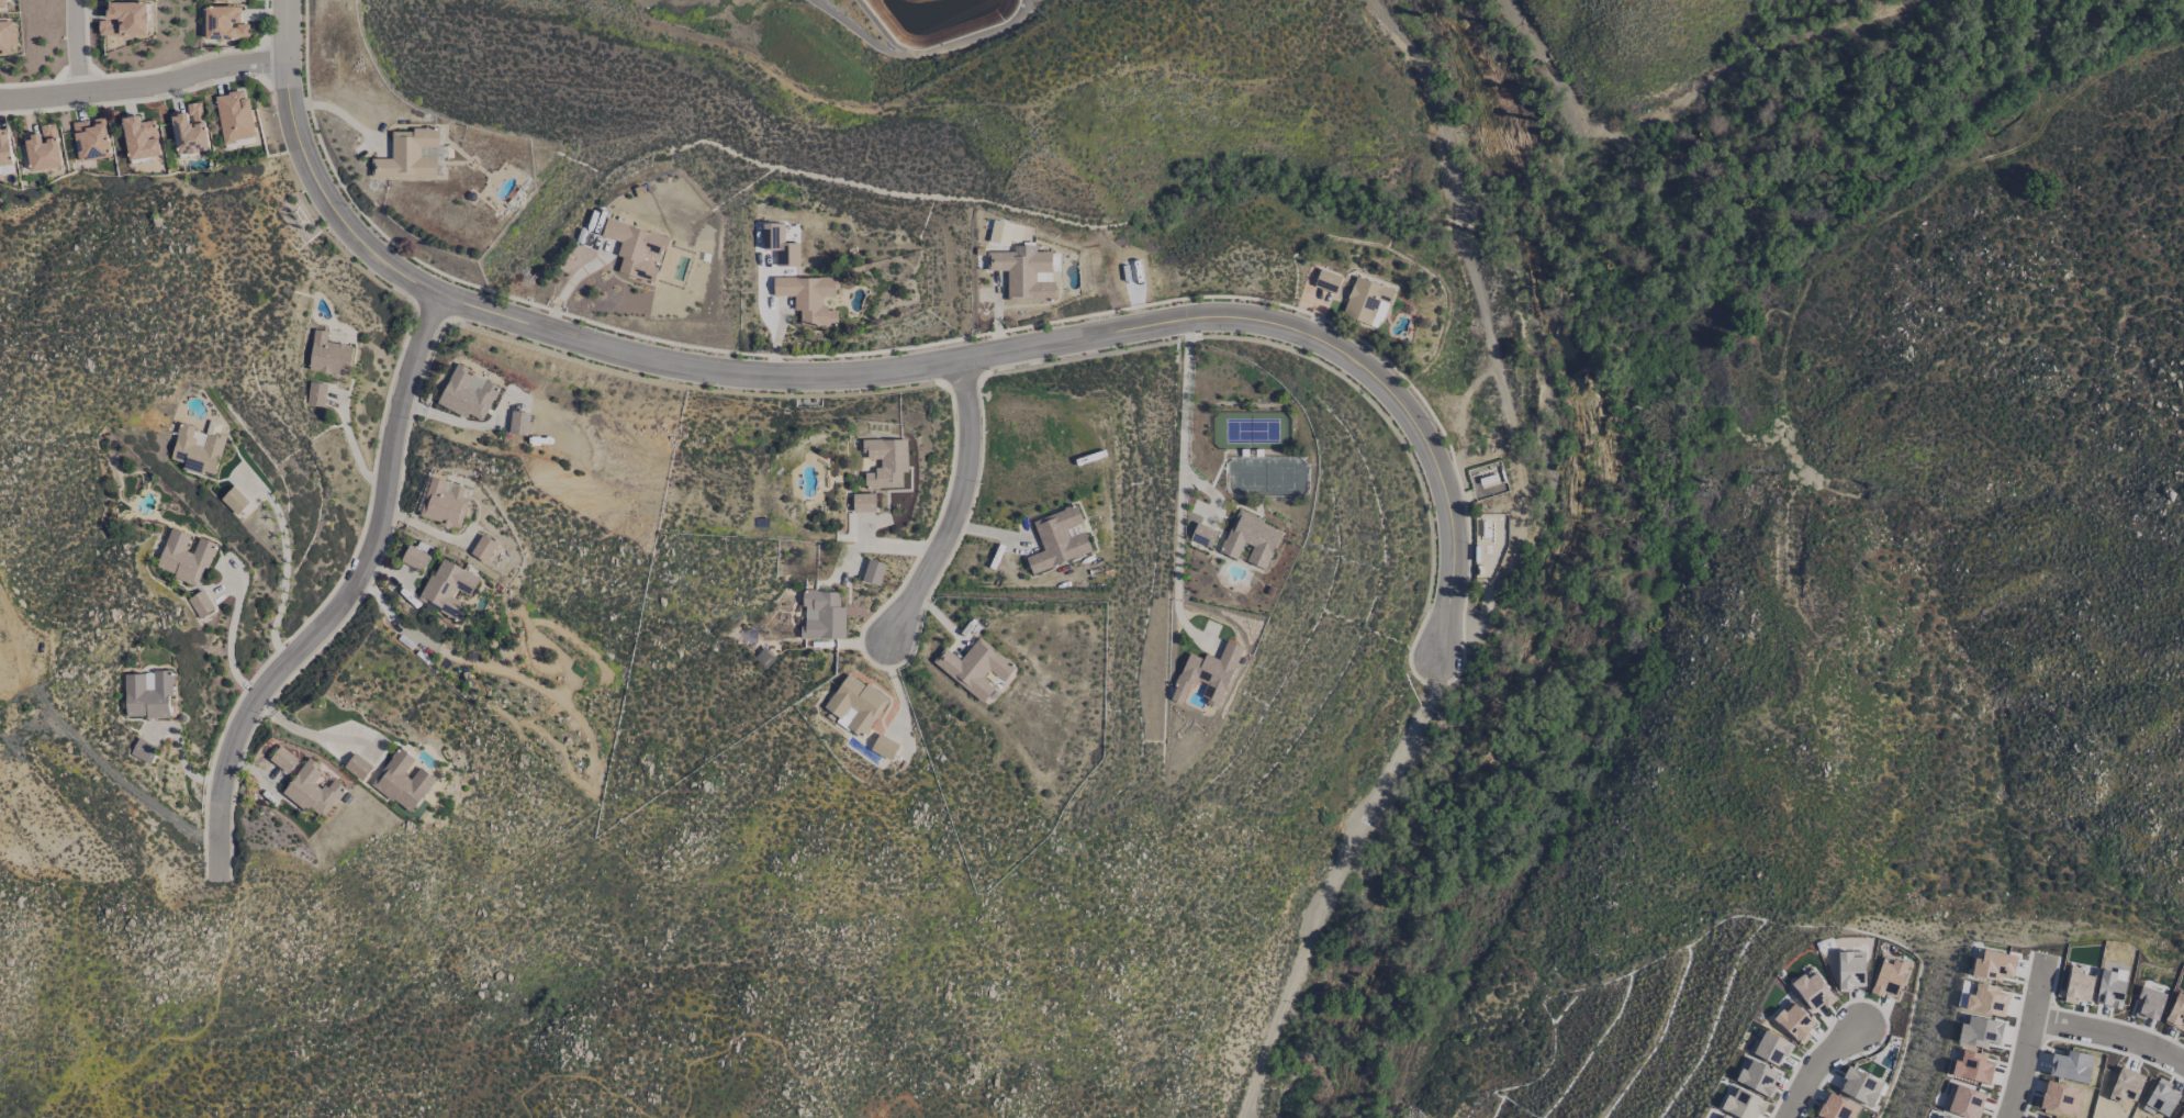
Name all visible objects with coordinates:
building: (229, 1)
building: (3, 3)
building: (124, 19)
building: (224, 23)
building: (8, 36)
wastewater plant: (848, 37)
road: (75, 47)
road: (919, 53)
road: (285, 71)
road: (144, 88)
building: (234, 116)
building: (189, 131)
building: (91, 138)
building: (139, 138)
building: (43, 148)
building: (5, 154)
building: (407, 155)
building: (636, 249)
building: (786, 255)
building: (1023, 273)
building: (1326, 281)
building: (809, 298)
building: (1367, 302)
road: (1487, 333)
building: (328, 355)
road: (953, 364)
building: (467, 393)
building: (315, 394)
building: (518, 423)
building: (198, 448)
building: (885, 462)
road: (1180, 473)
building: (233, 501)
building: (443, 503)
building: (863, 503)
road: (955, 507)
building: (1202, 536)
building: (1057, 539)
building: (1250, 539)
building: (483, 548)
building: (183, 557)
building: (414, 558)
river: (1577, 563)
road: (284, 567)
building: (873, 572)
building: (447, 589)
road: (343, 600)
building: (200, 604)
building: (822, 616)
road: (229, 633)
building: (974, 668)
building: (1207, 674)
building: (147, 695)
building: (854, 705)
road: (305, 733)
building: (884, 747)
building: (143, 751)
building: (283, 759)
building: (357, 767)
building: (402, 781)
building: (312, 791)
road: (1336, 883)
building: (1850, 970)
building: (1888, 979)
building: (1812, 991)
road: (214, 1015)
building: (1793, 1020)
road: (2110, 1036)
road: (758, 1037)
road: (2028, 1038)
building: (1770, 1048)
road: (1814, 1065)
building: (1756, 1076)
road: (576, 1081)
building: (1859, 1086)
building: (1743, 1104)
building: (1836, 1108)
building: (1717, 1116)

